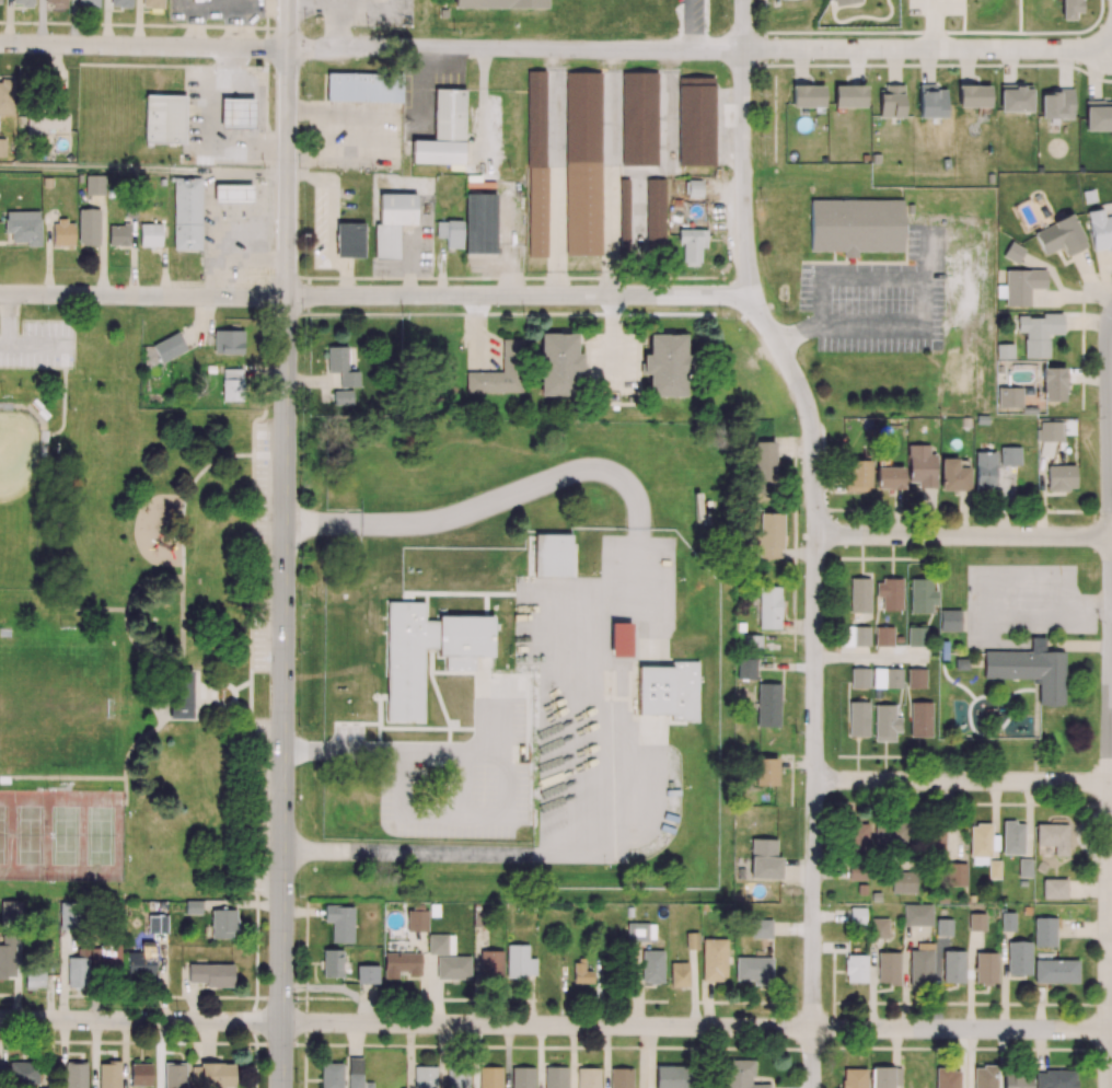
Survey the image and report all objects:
road: (292, 1)
road: (337, 20)
road: (935, 23)
road: (143, 46)
road: (930, 46)
road: (516, 49)
road: (218, 127)
road: (326, 131)
road: (288, 148)
road: (143, 171)
building: (232, 192)
building: (187, 211)
building: (118, 233)
building: (150, 233)
road: (919, 296)
road: (143, 297)
road: (520, 297)
building: (169, 346)
road: (1110, 426)
park: (18, 501)
road: (963, 535)
road: (815, 536)
park: (135, 620)
road: (285, 692)
building: (181, 694)
park: (58, 705)
road: (964, 782)
park: (3, 835)
park: (67, 835)
park: (30, 836)
park: (102, 836)
road: (545, 854)
road: (1108, 895)
road: (242, 902)
road: (302, 911)
road: (161, 976)
road: (188, 994)
road: (141, 1020)
road: (696, 1026)
road: (355, 1040)
road: (61, 1054)
road: (95, 1054)
road: (125, 1054)
road: (540, 1055)
road: (475, 1056)
road: (508, 1056)
road: (572, 1056)
road: (606, 1056)

